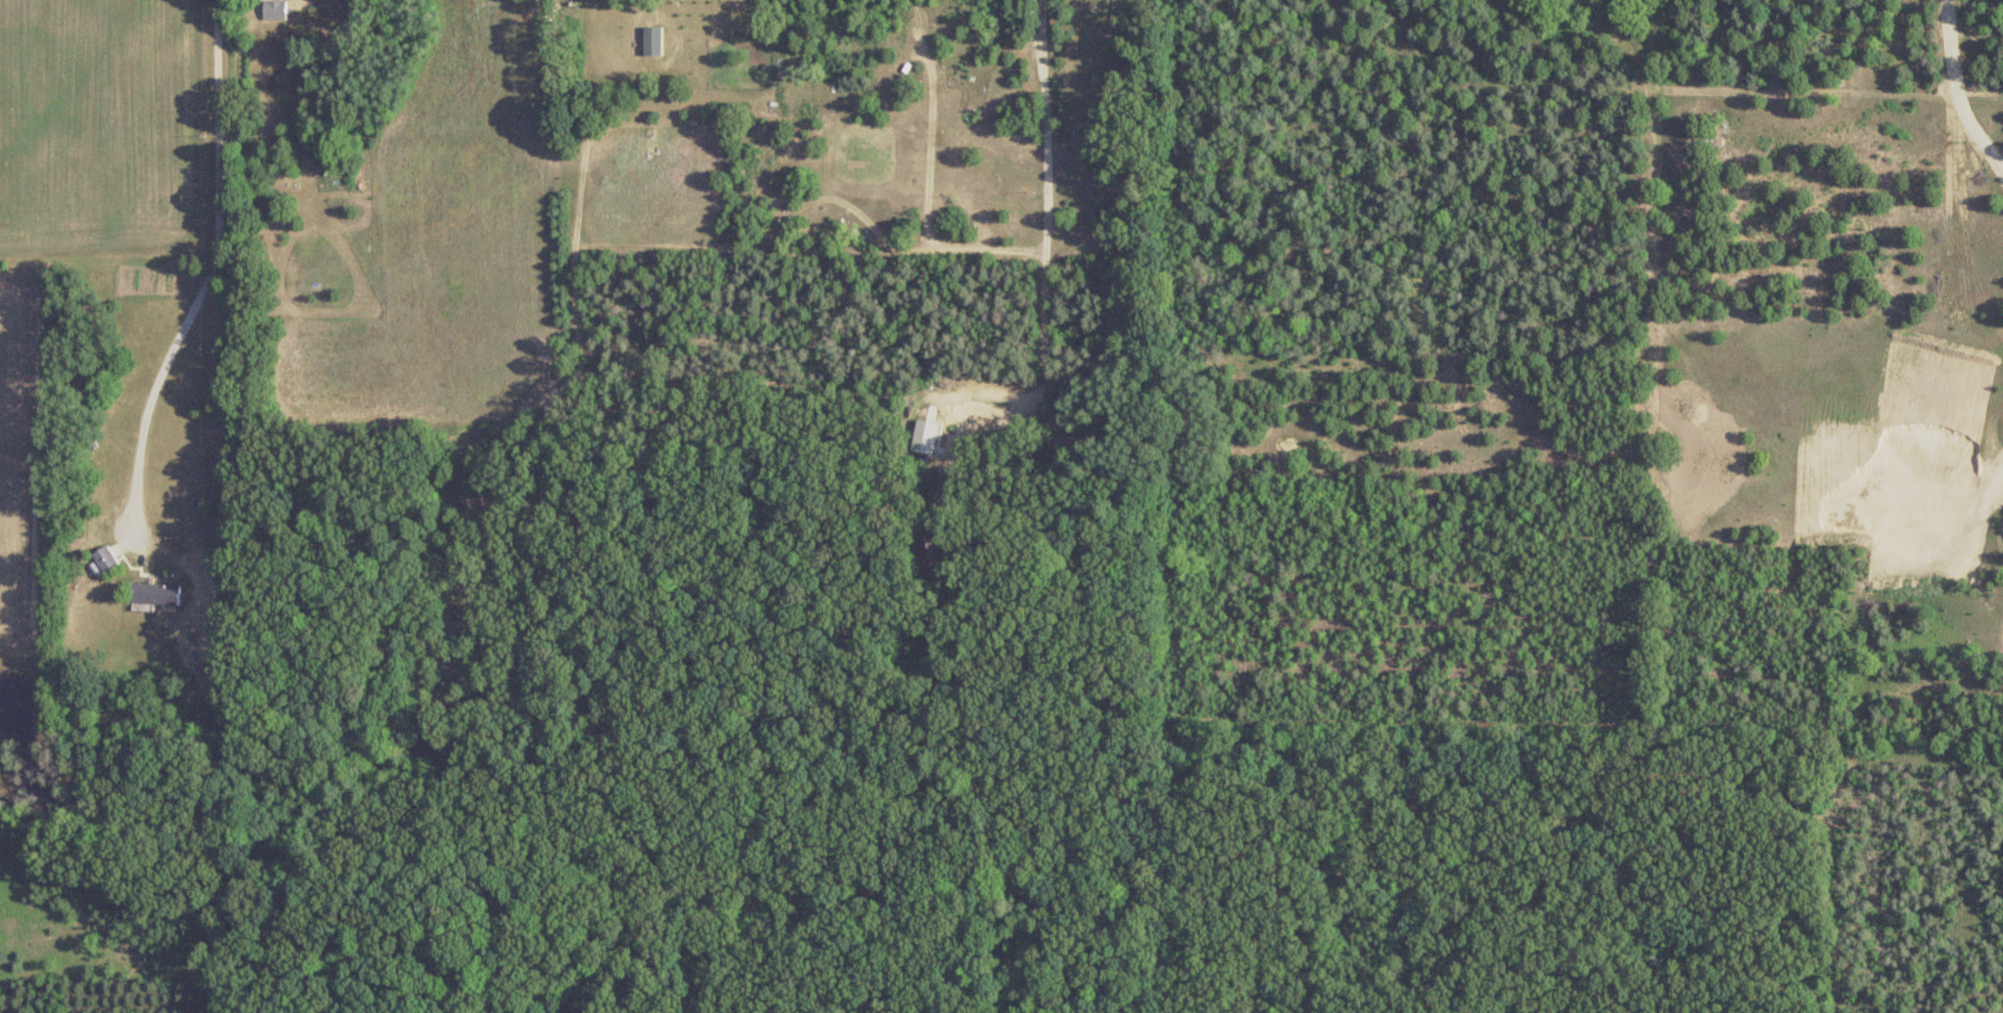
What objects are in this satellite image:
building: (275, 10)
building: (653, 41)
road: (931, 134)
road: (766, 239)
road: (207, 264)
road: (1047, 276)
building: (931, 554)
building: (106, 559)
building: (153, 594)

